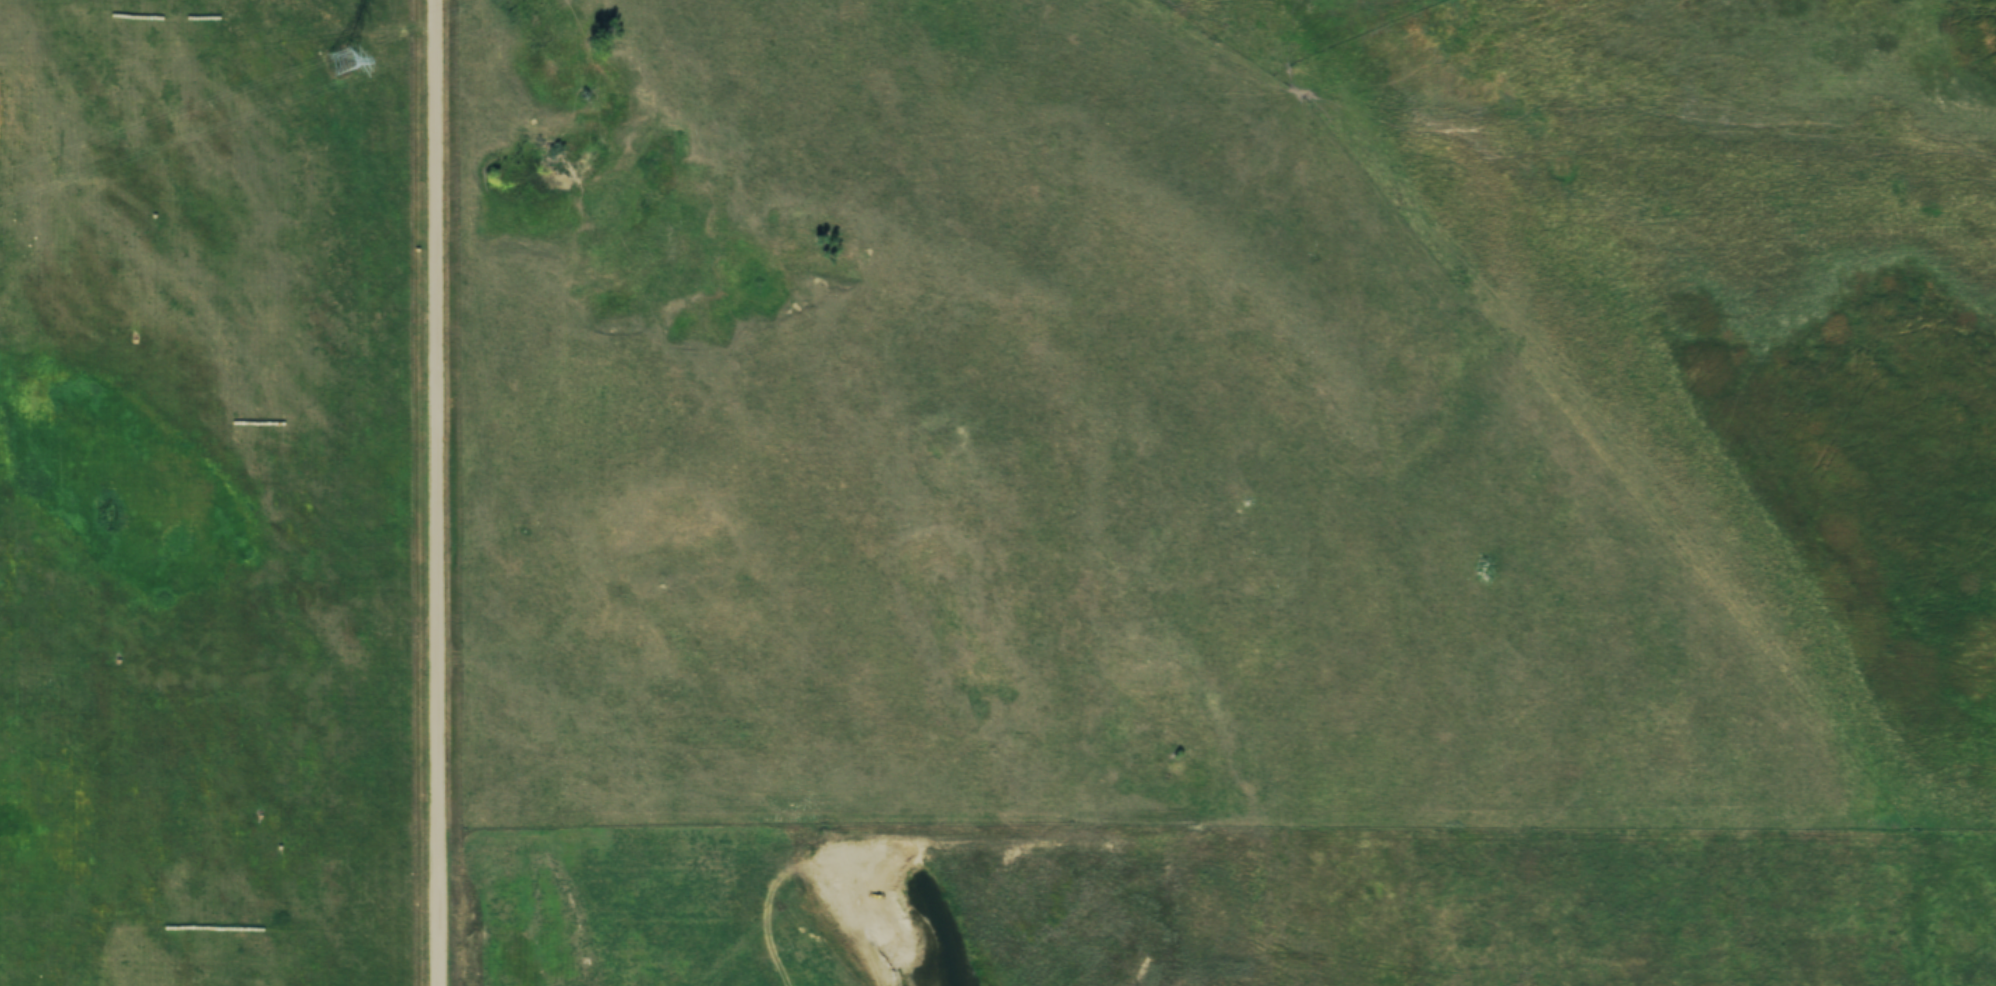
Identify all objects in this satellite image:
power tower: (344, 62)
road: (440, 492)
road: (869, 839)

